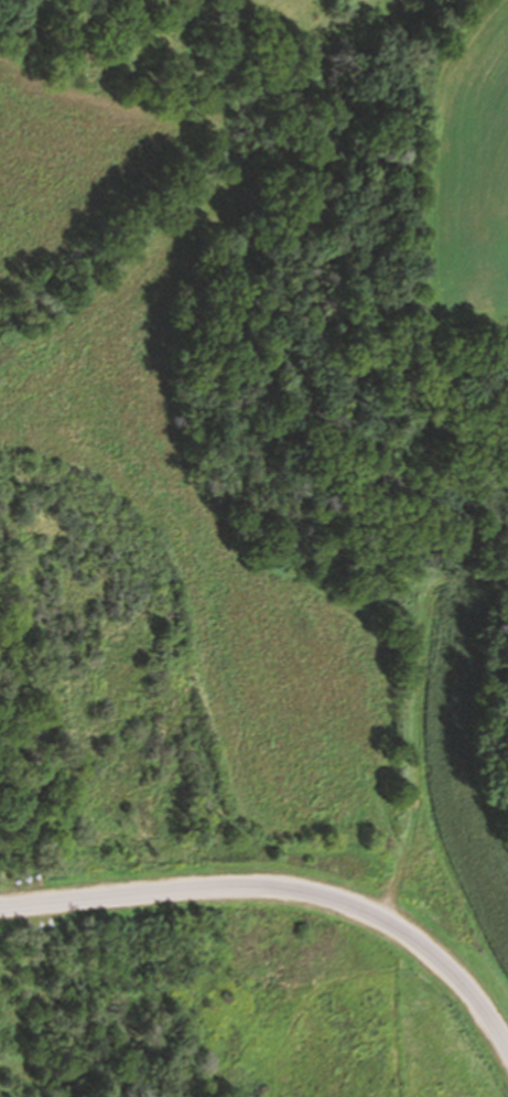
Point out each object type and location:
road: (285, 885)

